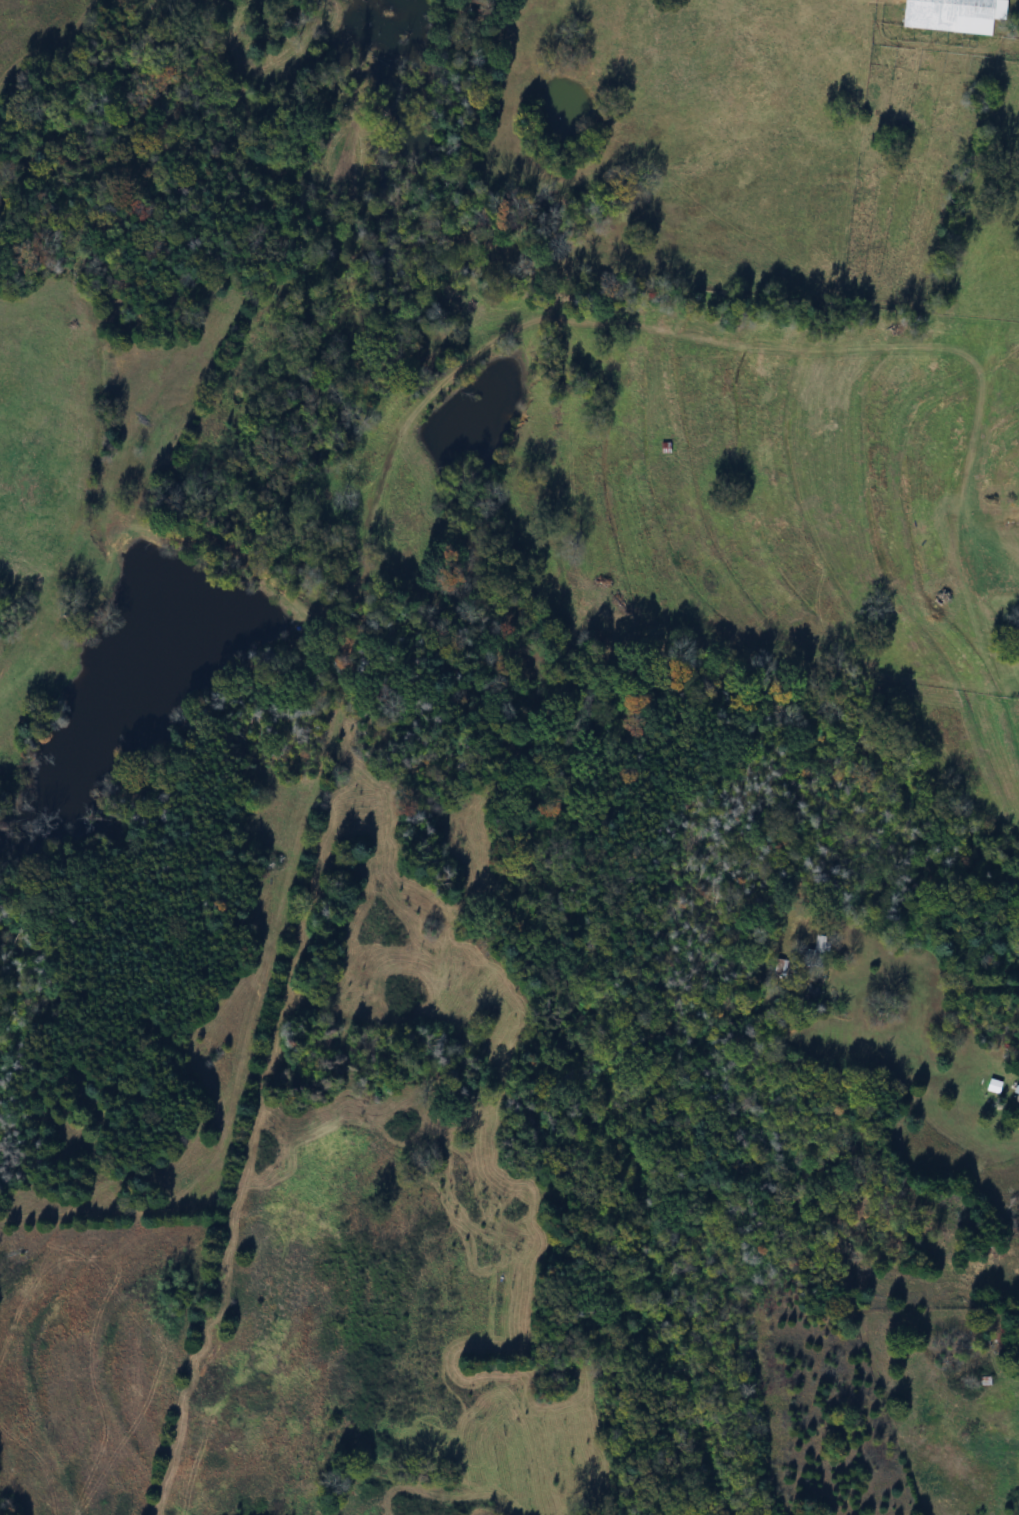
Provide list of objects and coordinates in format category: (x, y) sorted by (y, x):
building: (956, 15)
building: (822, 944)

